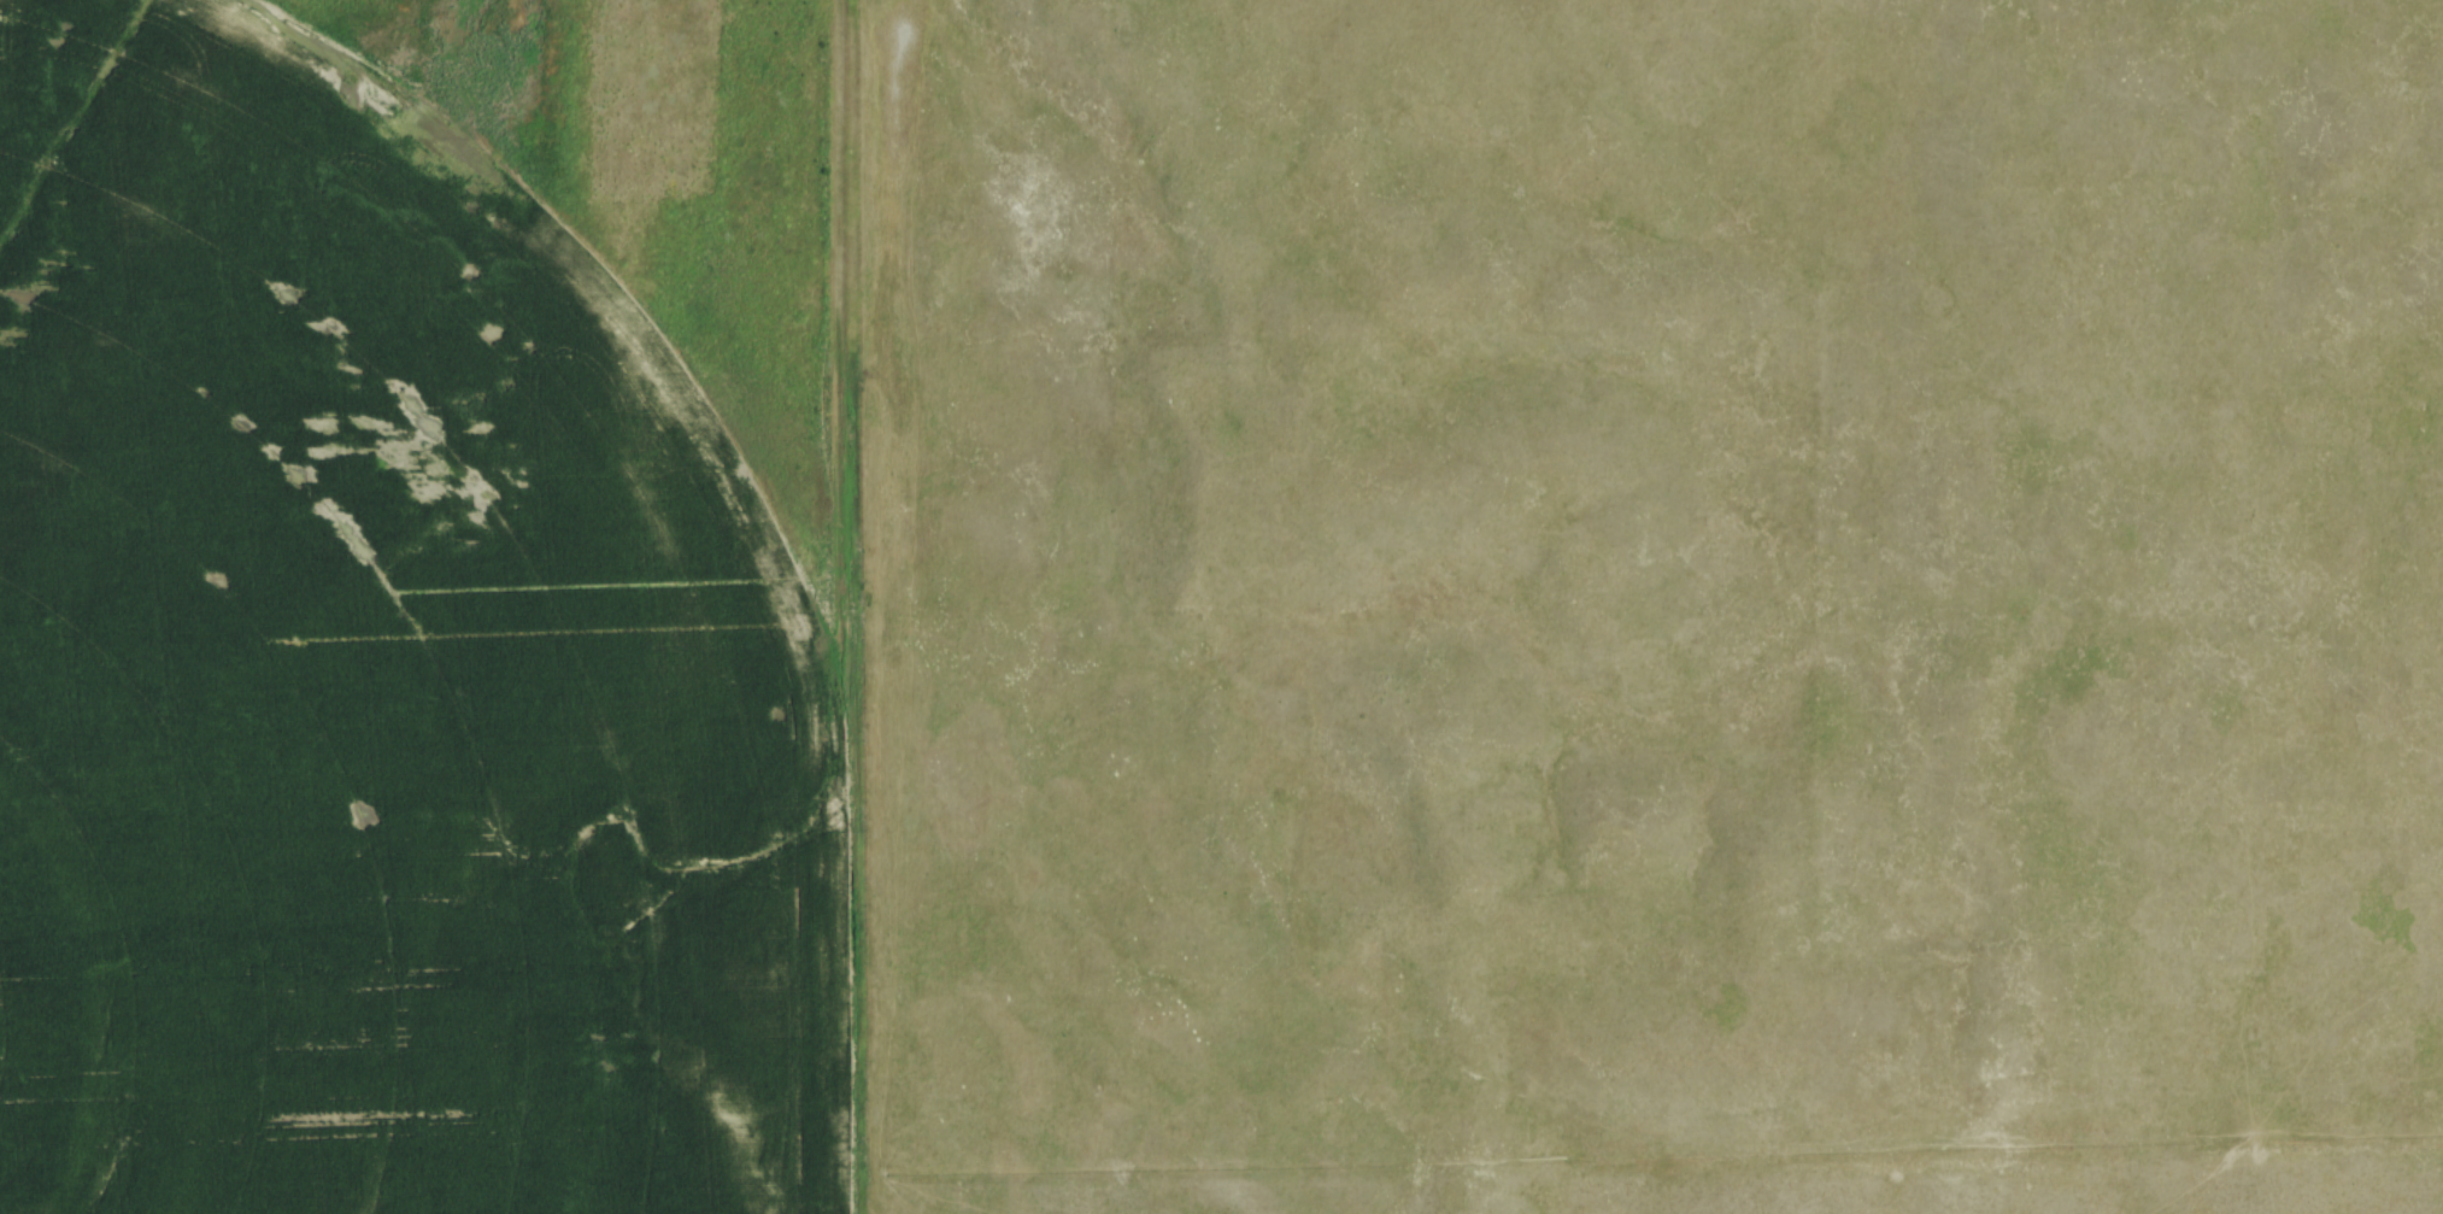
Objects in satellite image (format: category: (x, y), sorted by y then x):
road: (845, 606)

